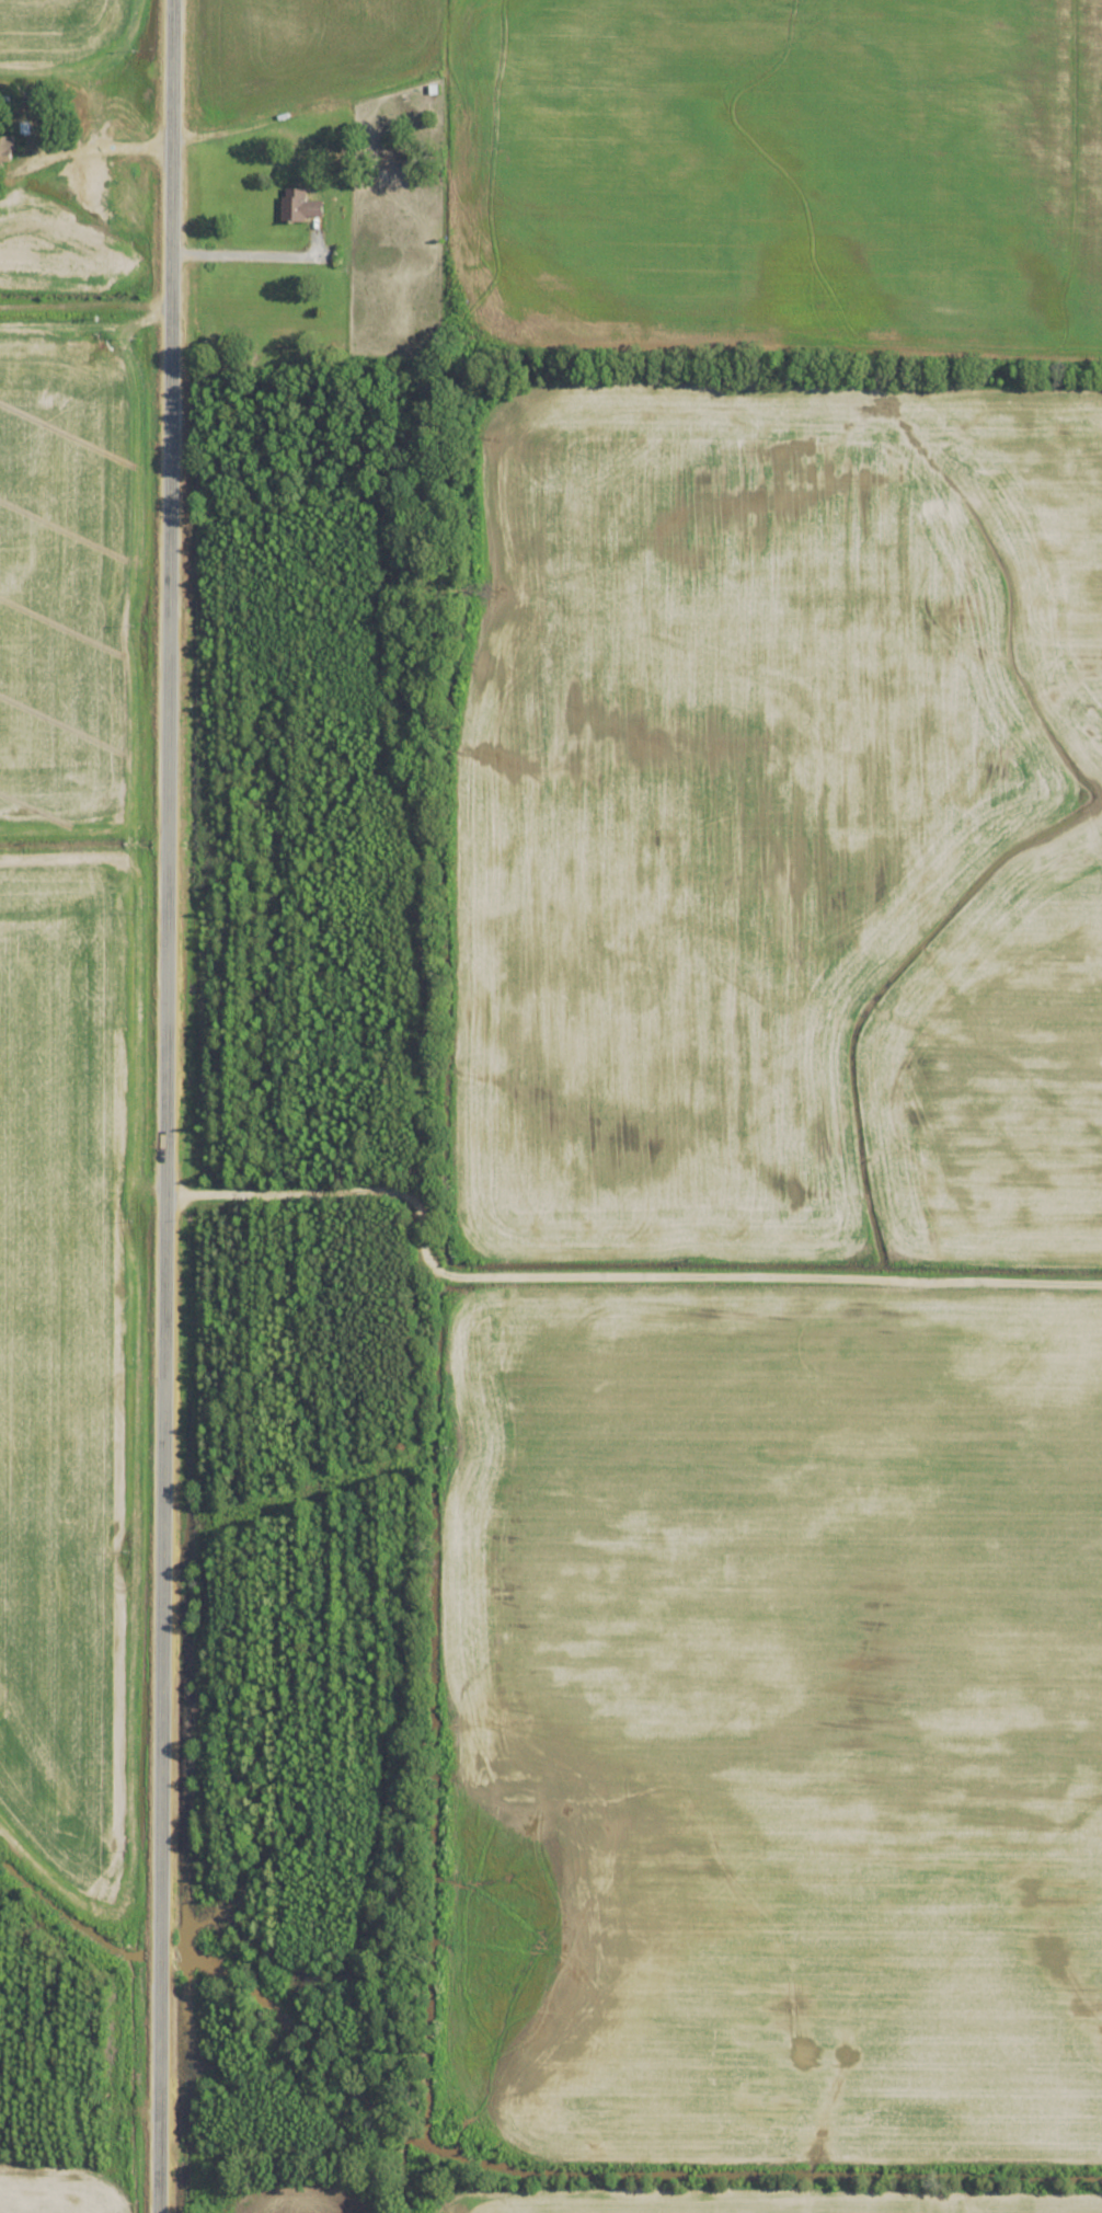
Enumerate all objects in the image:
road: (80, 145)
building: (7, 149)
building: (301, 206)
road: (245, 246)
road: (82, 308)
road: (156, 1105)
road: (318, 1191)
road: (764, 1297)

